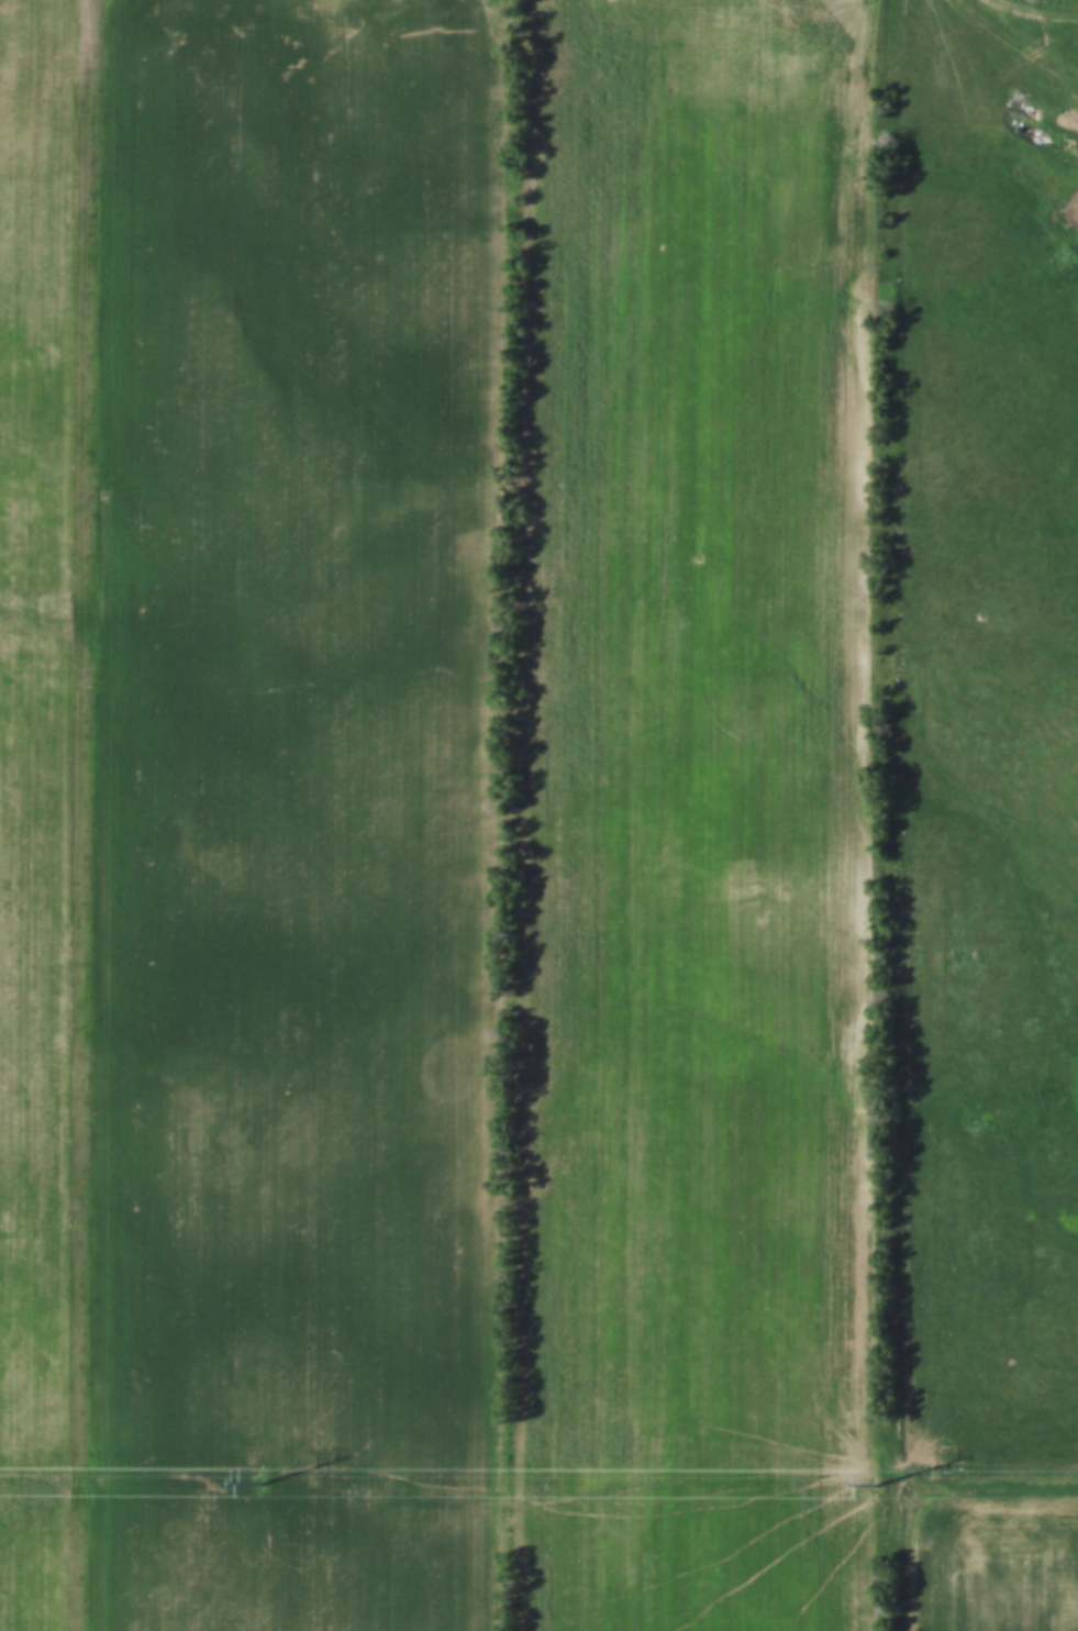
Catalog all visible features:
power tower: (254, 1482)
power tower: (870, 1482)

